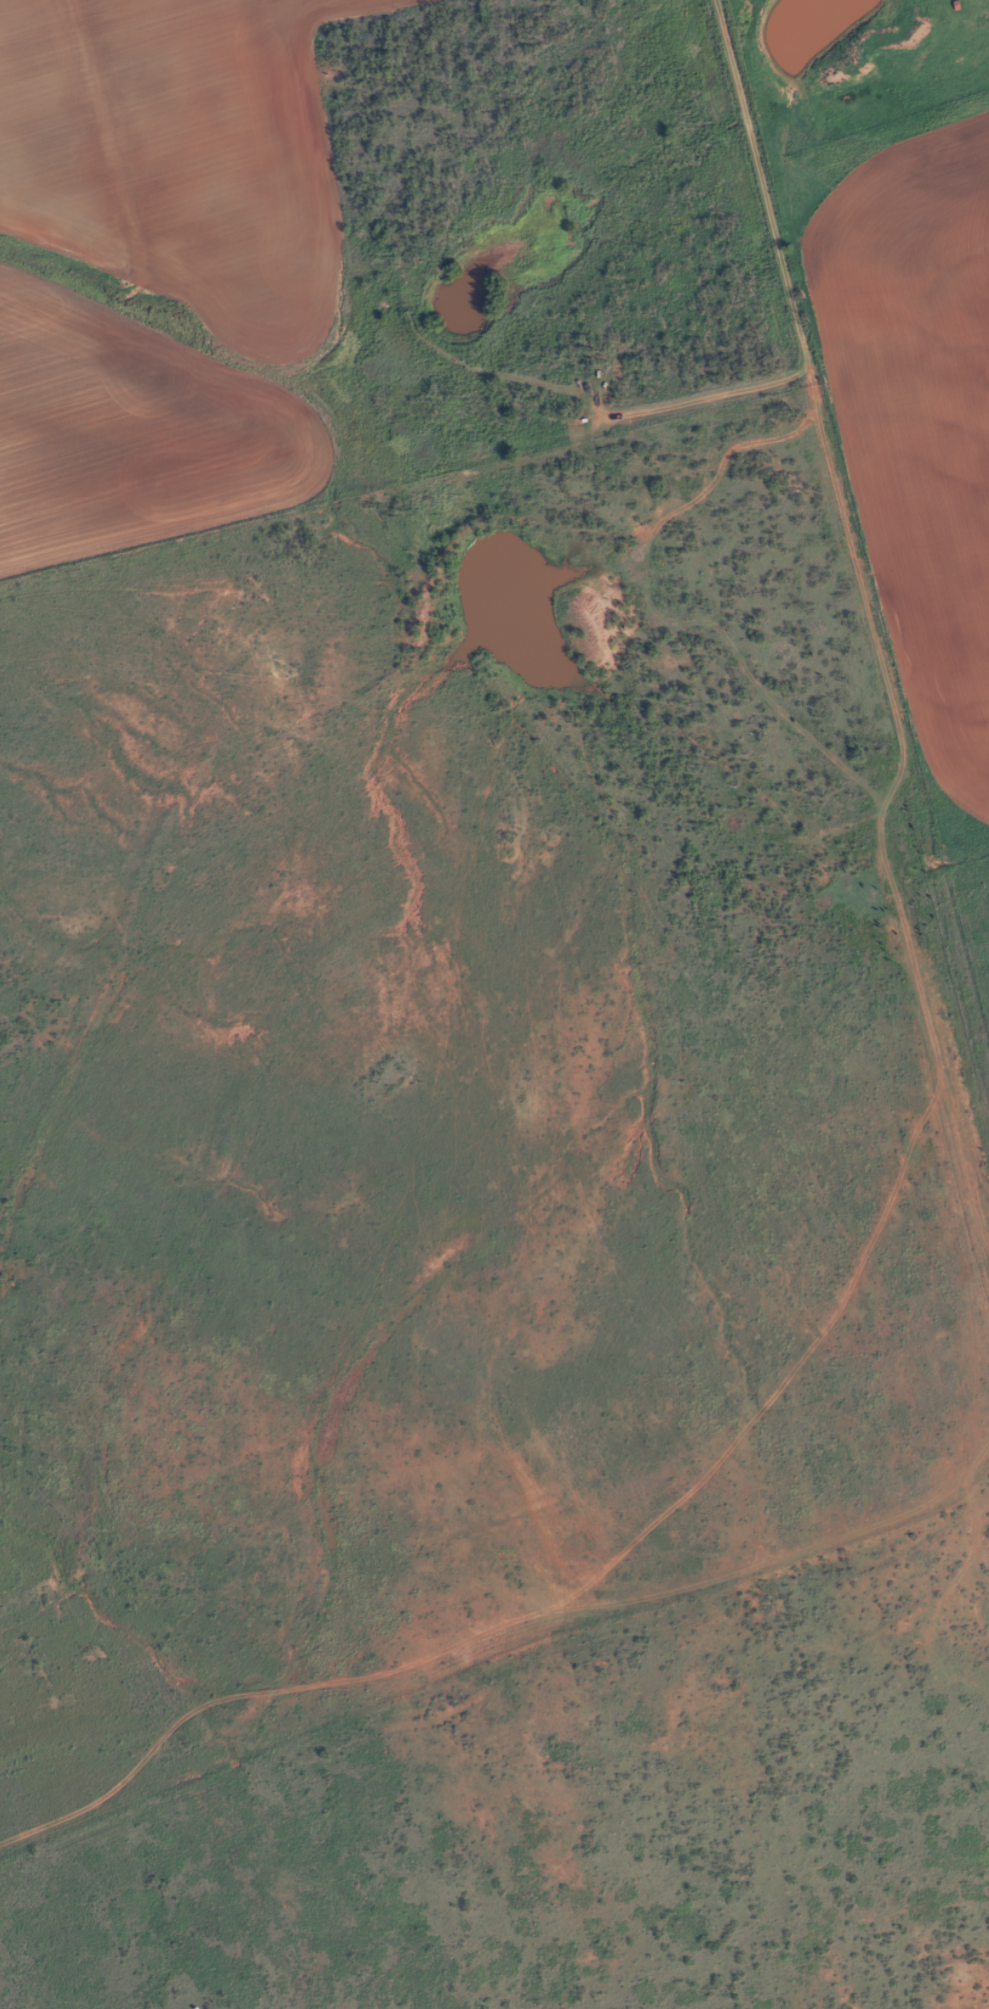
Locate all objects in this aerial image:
road: (449, 118)
road: (856, 490)

